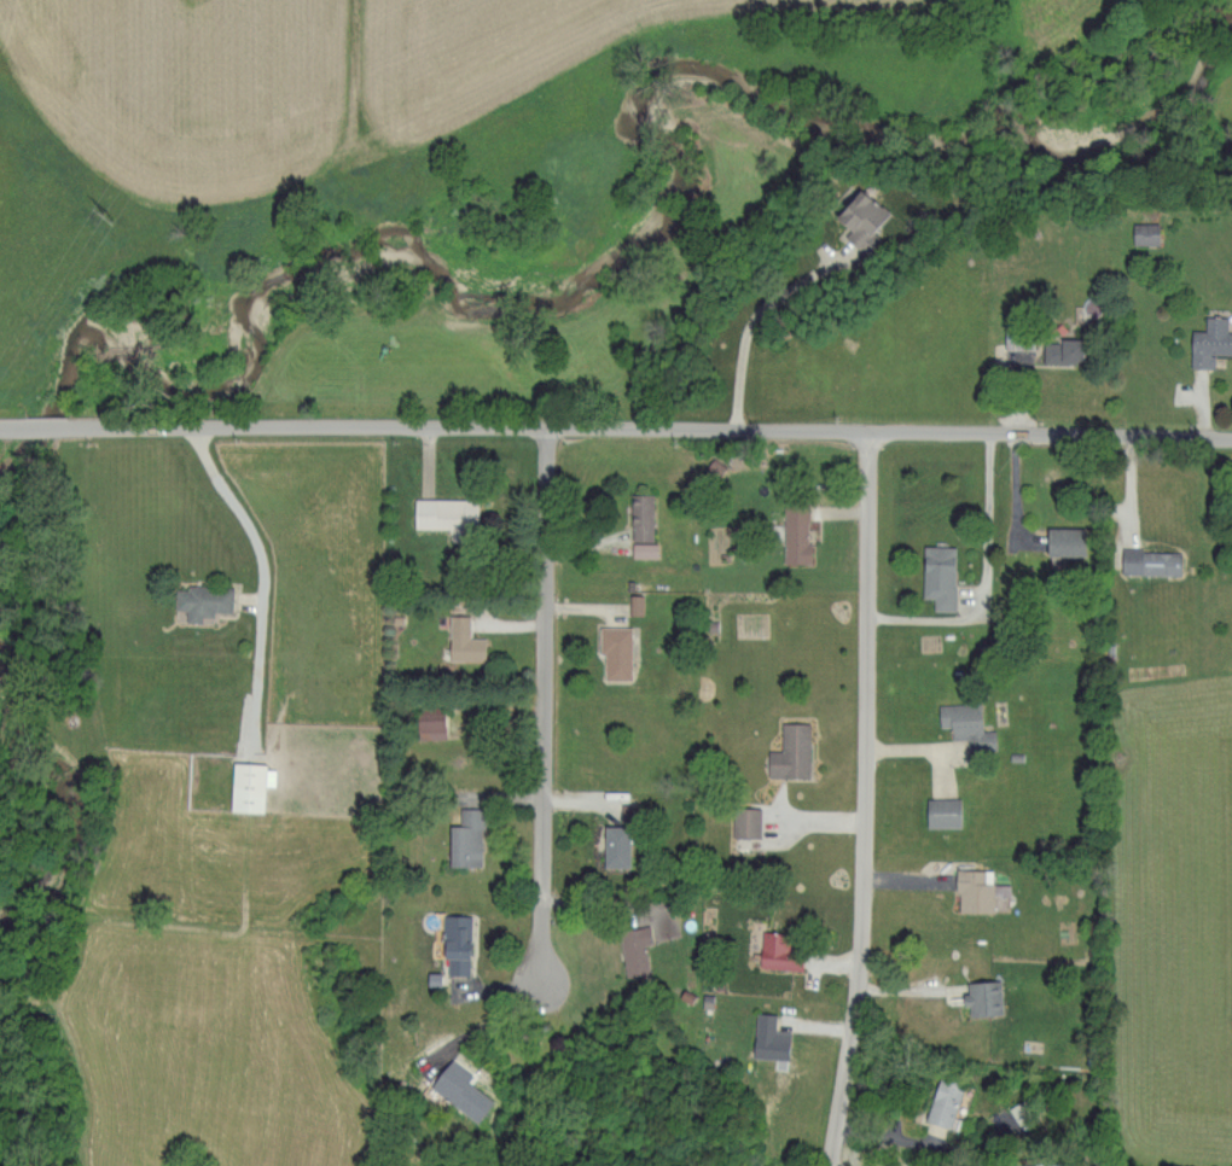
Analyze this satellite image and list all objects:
building: (850, 210)
power tower: (117, 211)
building: (1141, 232)
road: (755, 321)
building: (1207, 340)
building: (1056, 350)
road: (58, 420)
road: (19, 421)
road: (655, 427)
building: (709, 466)
building: (639, 517)
building: (791, 532)
building: (1059, 540)
building: (639, 549)
building: (1146, 561)
road: (274, 572)
building: (934, 575)
road: (984, 583)
building: (197, 600)
building: (459, 640)
building: (611, 651)
road: (542, 704)
building: (960, 723)
building: (786, 752)
building: (244, 785)
road: (865, 799)
building: (937, 811)
building: (739, 822)
building: (460, 845)
building: (604, 845)
building: (972, 890)
road: (616, 902)
building: (449, 943)
building: (629, 950)
building: (773, 952)
building: (978, 997)
building: (765, 1038)
building: (454, 1090)
building: (936, 1103)

